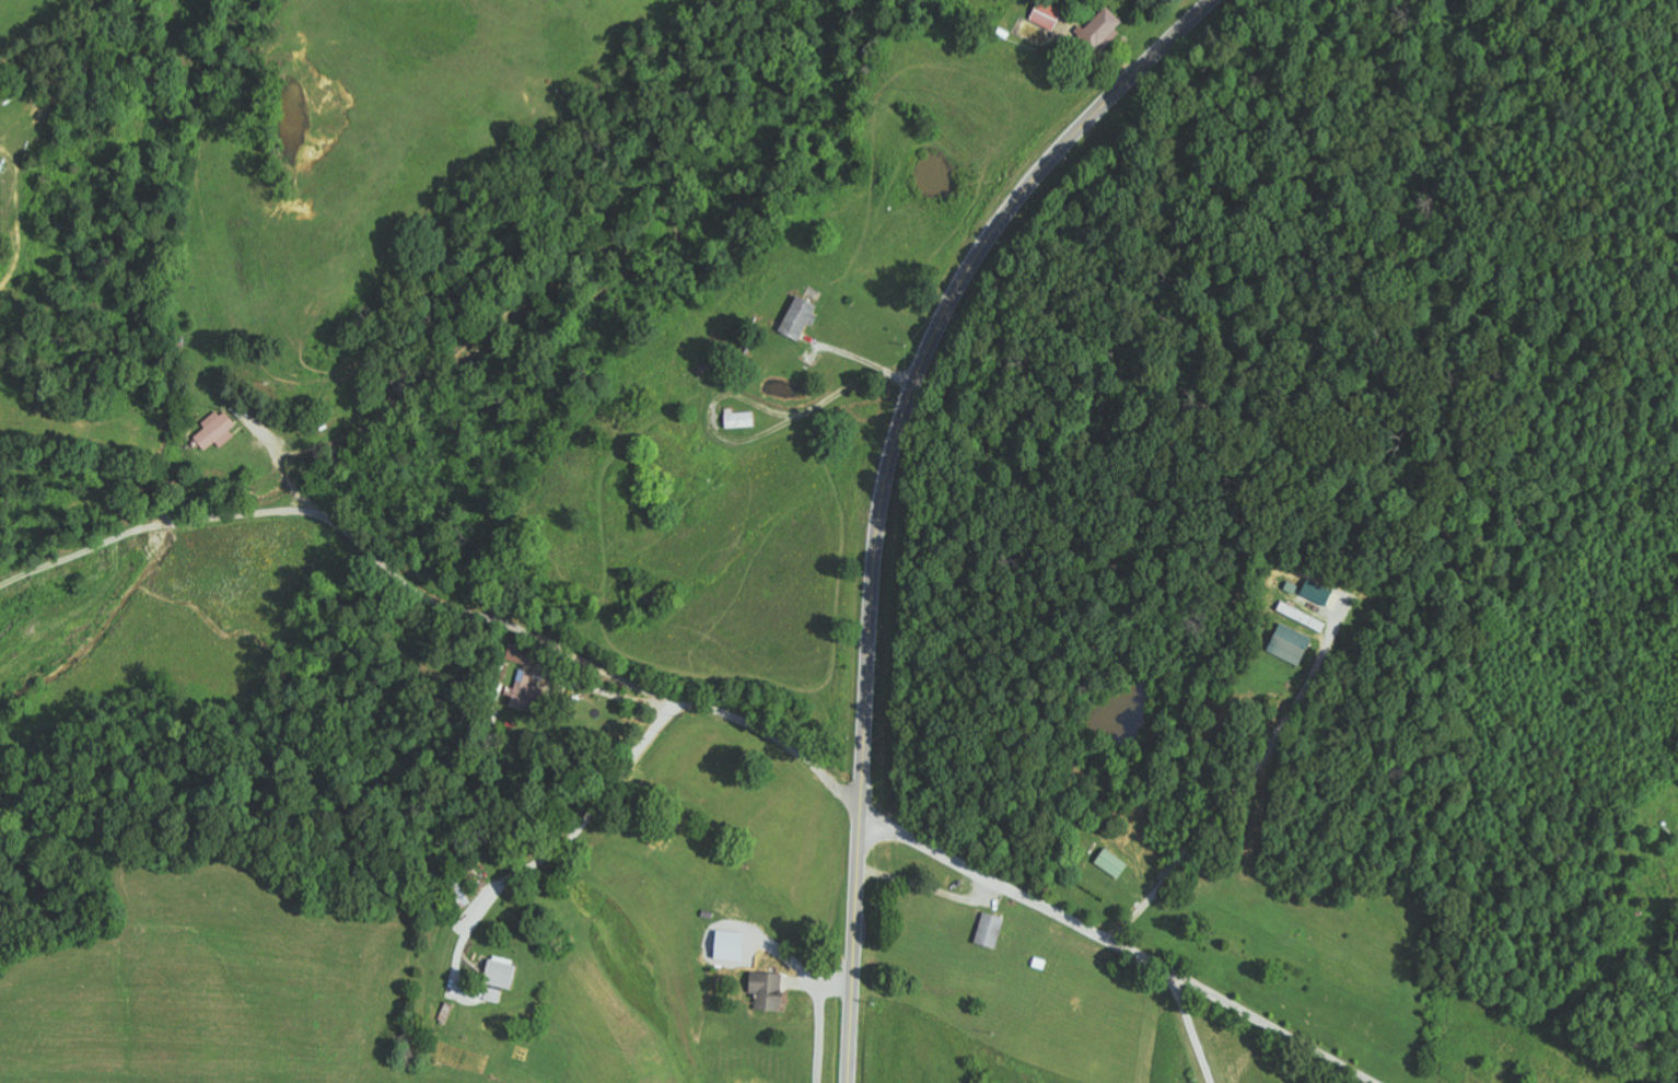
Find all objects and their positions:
building: (1047, 15)
building: (1100, 33)
road: (139, 247)
building: (800, 317)
building: (739, 420)
building: (217, 430)
road: (885, 486)
building: (1317, 592)
road: (433, 606)
building: (1290, 644)
building: (522, 654)
building: (524, 690)
road: (560, 857)
building: (1111, 863)
building: (990, 930)
road: (1115, 944)
building: (500, 974)
building: (768, 990)

